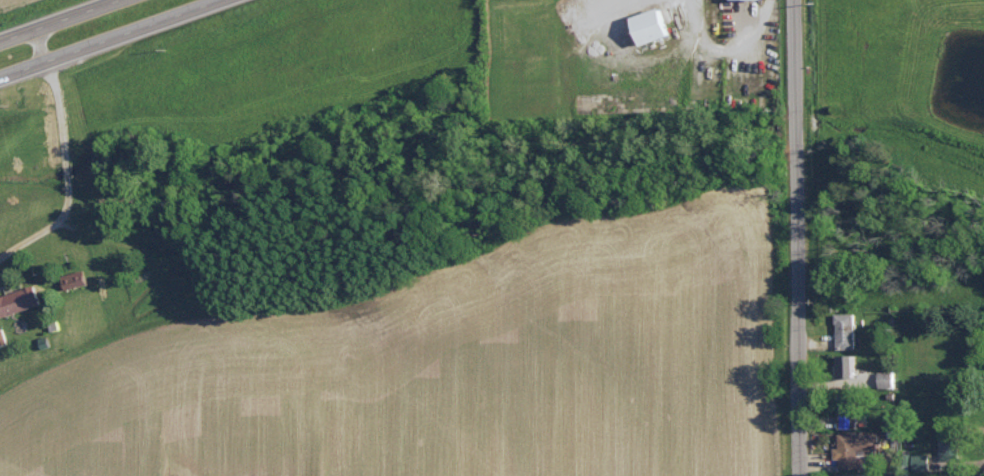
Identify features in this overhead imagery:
road: (59, 21)
building: (655, 25)
road: (109, 39)
road: (67, 158)
road: (797, 237)
building: (77, 279)
building: (20, 300)
building: (848, 330)
building: (849, 368)
building: (888, 379)
building: (850, 415)
building: (953, 446)
building: (858, 448)
building: (923, 460)
building: (856, 474)
building: (955, 475)

